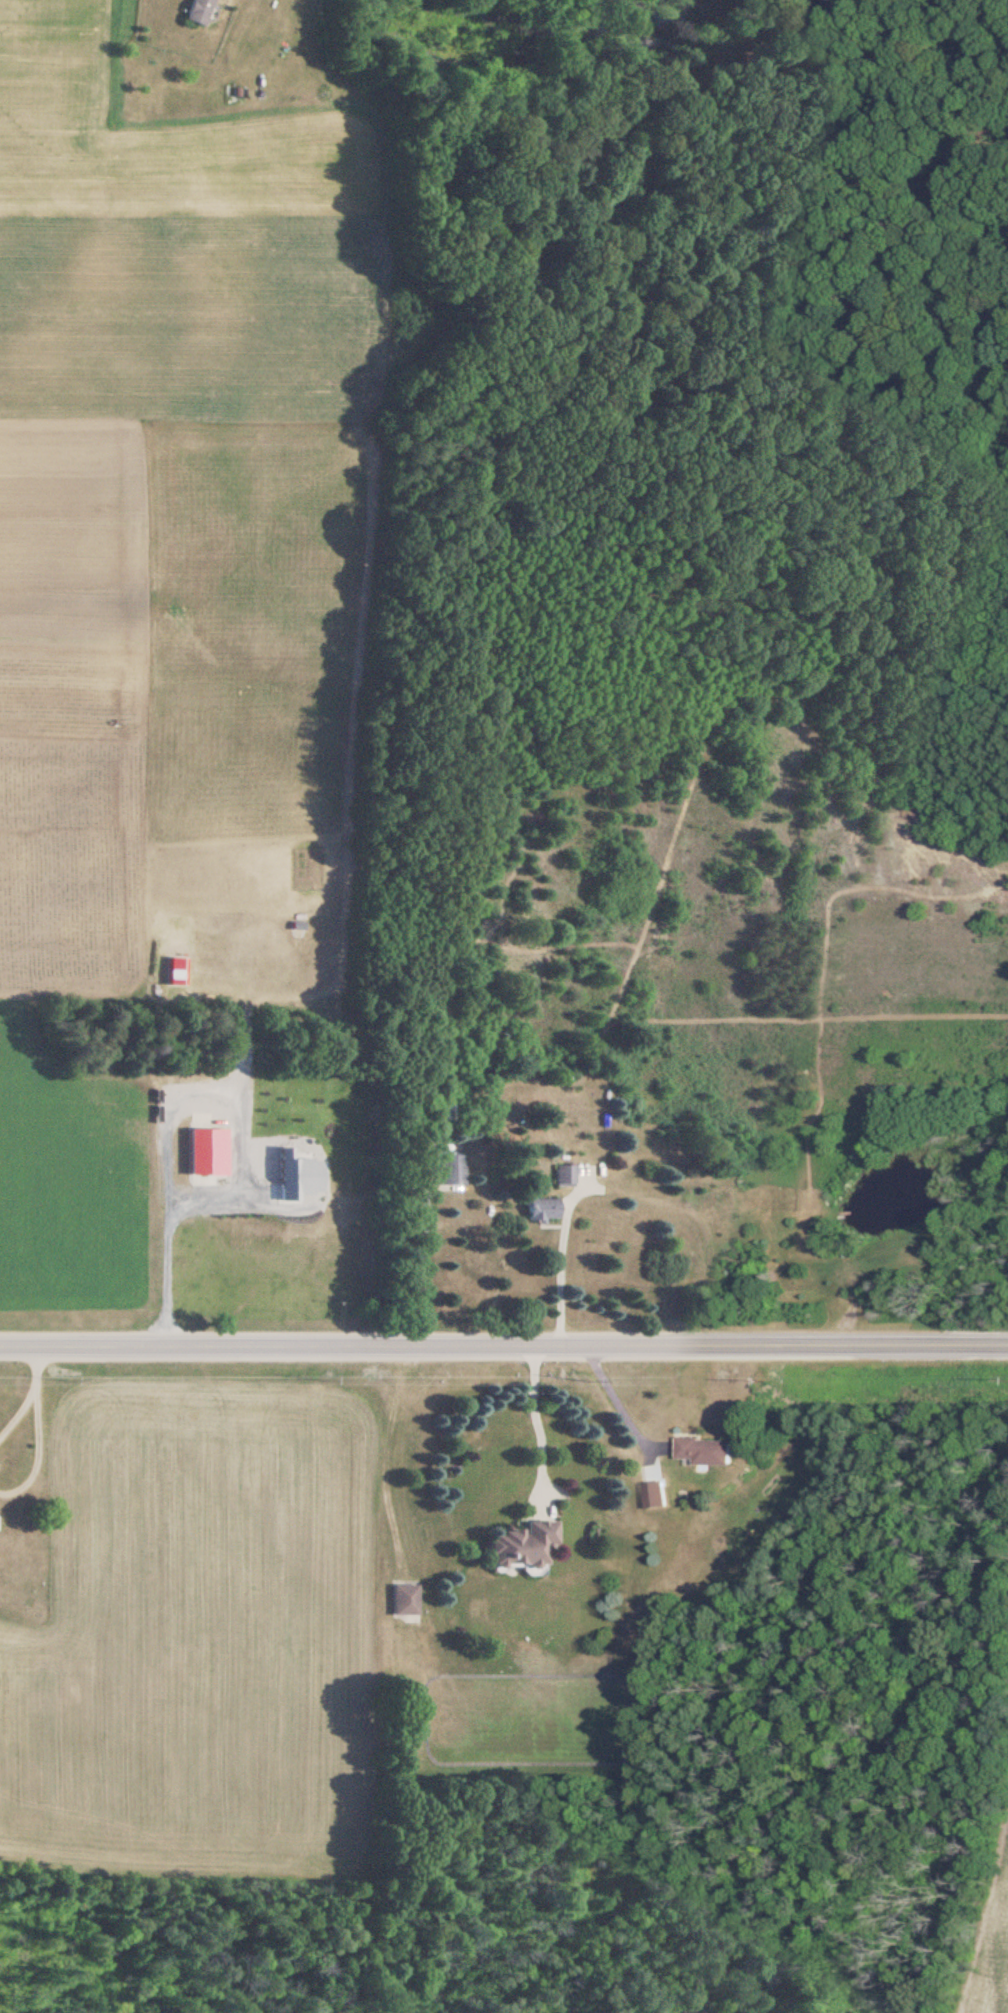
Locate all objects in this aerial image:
building: (197, 12)
road: (238, 1157)
building: (546, 1209)
road: (422, 1251)
road: (557, 1272)
road: (503, 1347)
road: (34, 1359)
road: (20, 1402)
road: (618, 1407)
road: (535, 1426)
road: (34, 1441)
building: (708, 1452)
building: (523, 1545)
building: (402, 1600)

